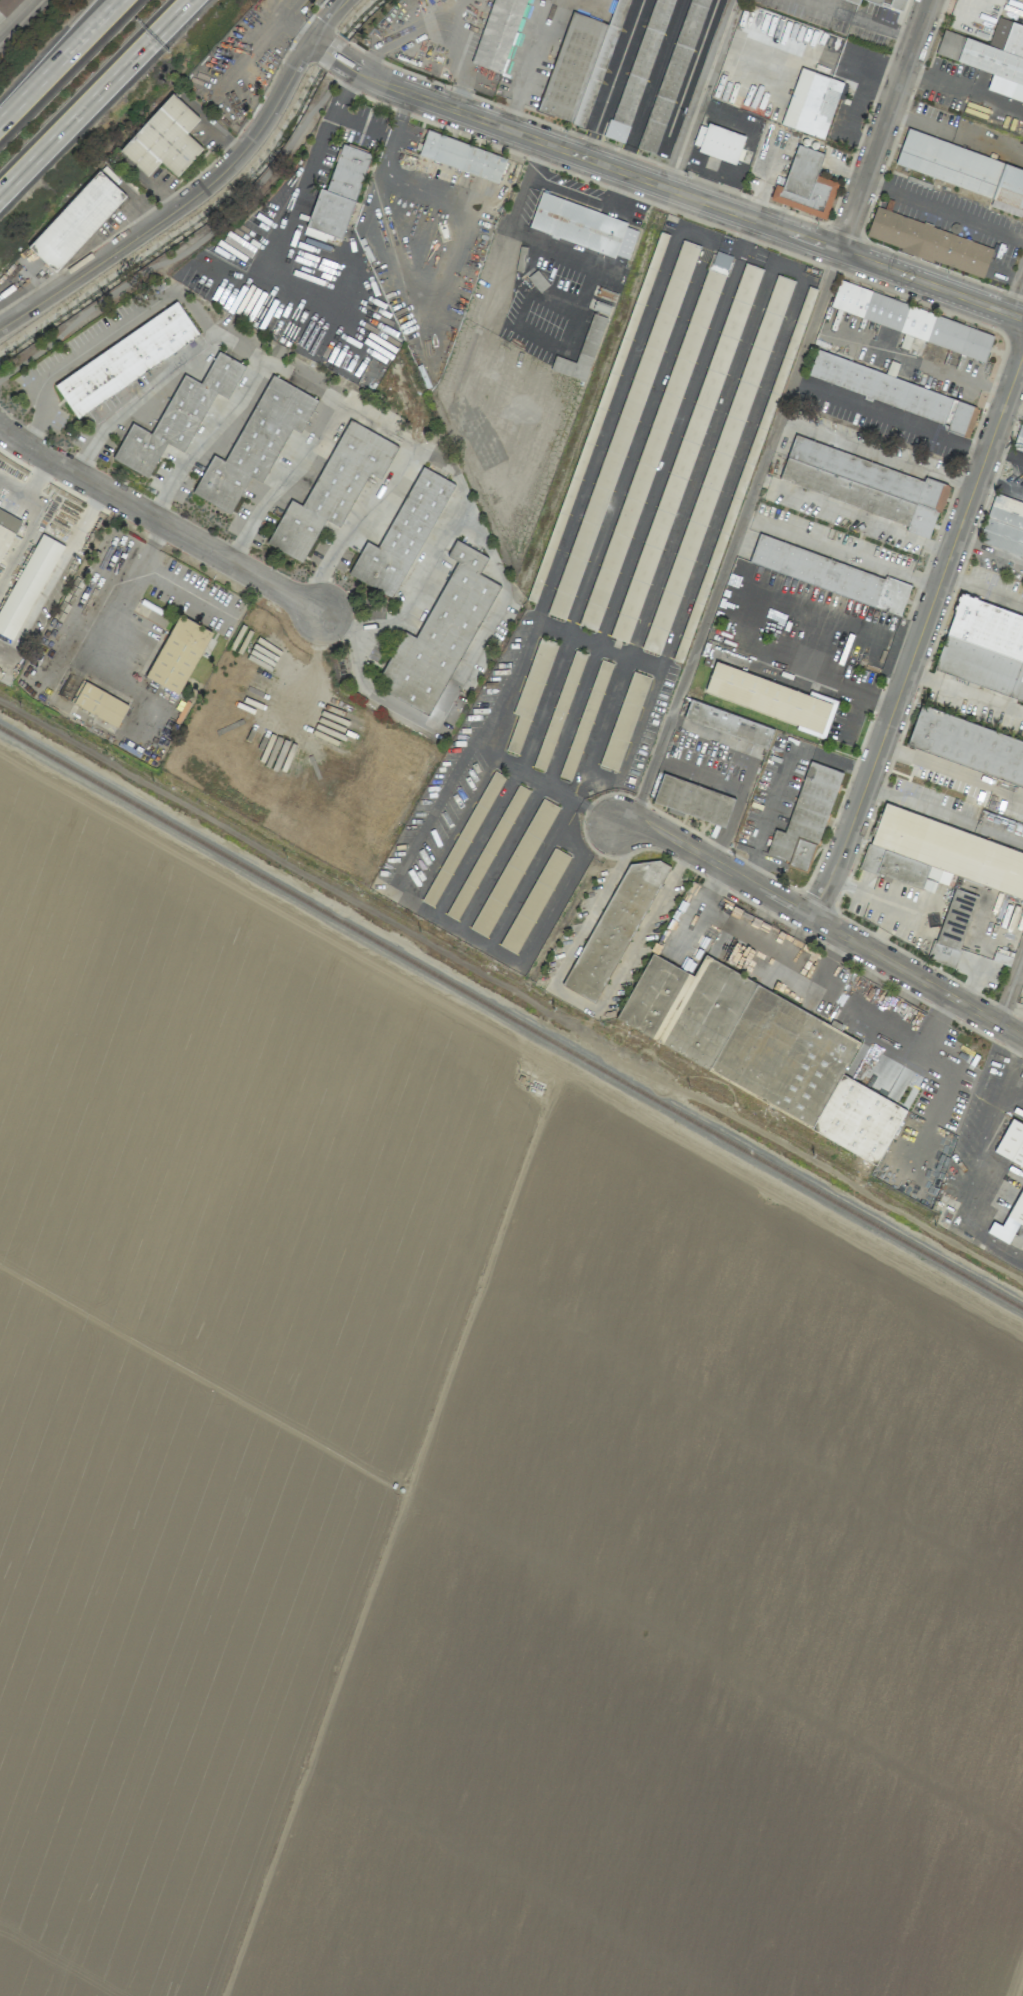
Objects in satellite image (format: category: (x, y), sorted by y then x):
building: (855, 1)
building: (890, 4)
building: (7, 6)
road: (20, 21)
road: (434, 30)
road: (333, 31)
building: (494, 31)
road: (340, 37)
road: (317, 43)
road: (330, 51)
building: (991, 57)
road: (59, 60)
building: (582, 64)
building: (636, 69)
building: (670, 75)
road: (701, 93)
road: (95, 96)
building: (811, 103)
road: (508, 109)
road: (883, 124)
building: (164, 139)
building: (720, 144)
building: (462, 156)
road: (537, 162)
building: (961, 168)
road: (381, 178)
building: (805, 185)
road: (200, 191)
road: (678, 191)
road: (570, 192)
building: (337, 196)
road: (620, 197)
road: (291, 209)
road: (669, 210)
road: (943, 211)
building: (76, 221)
building: (577, 224)
park: (174, 236)
road: (744, 238)
building: (930, 242)
road: (195, 243)
building: (624, 248)
building: (721, 259)
road: (1015, 290)
building: (913, 323)
building: (582, 352)
building: (126, 359)
road: (916, 363)
building: (895, 392)
road: (142, 397)
road: (890, 415)
building: (177, 416)
road: (210, 439)
building: (1018, 442)
building: (255, 443)
road: (410, 445)
road: (668, 449)
road: (877, 450)
road: (1006, 453)
road: (286, 482)
road: (1000, 483)
building: (864, 485)
building: (332, 488)
road: (54, 516)
road: (853, 516)
road: (158, 519)
road: (358, 526)
building: (1004, 527)
building: (7, 528)
building: (402, 535)
road: (735, 536)
road: (22, 551)
road: (839, 554)
building: (829, 574)
road: (423, 584)
building: (27, 585)
road: (979, 587)
road: (180, 590)
road: (1019, 602)
road: (44, 604)
road: (109, 630)
building: (440, 634)
road: (920, 636)
building: (984, 648)
building: (178, 654)
road: (804, 671)
road: (964, 696)
building: (772, 699)
road: (862, 700)
building: (100, 704)
building: (624, 721)
building: (728, 723)
building: (967, 745)
road: (560, 746)
road: (748, 769)
road: (952, 771)
road: (780, 774)
road: (698, 776)
building: (693, 799)
road: (933, 809)
building: (805, 817)
building: (939, 854)
building: (514, 867)
road: (850, 884)
building: (534, 900)
road: (891, 920)
road: (819, 923)
building: (613, 927)
road: (1011, 991)
road: (576, 1000)
railway: (511, 1017)
building: (758, 1047)
road: (1011, 1067)
building: (1011, 1142)
building: (1009, 1220)
crop: (459, 1509)

